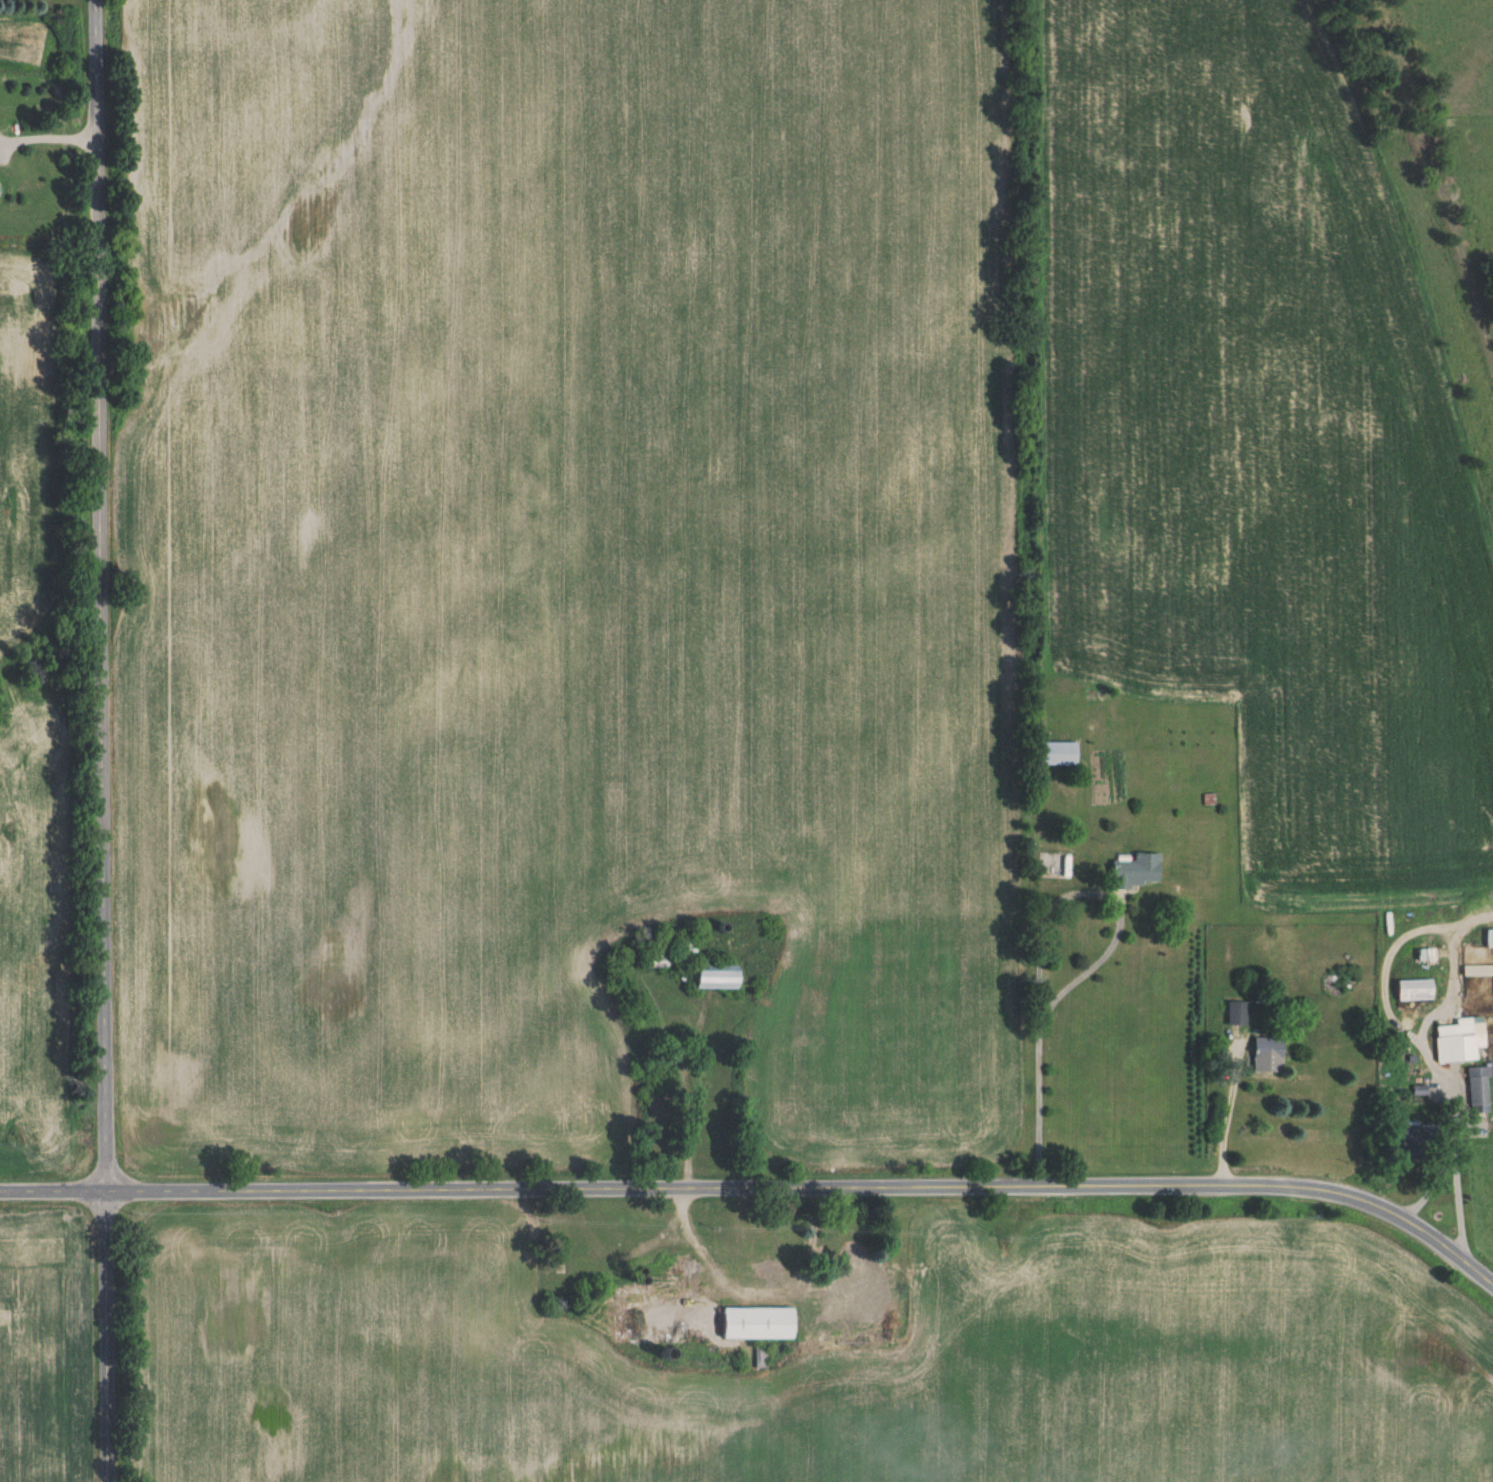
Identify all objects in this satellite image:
road: (48, 133)
building: (1, 191)
road: (99, 741)
building: (1057, 753)
building: (1131, 871)
building: (1488, 939)
building: (684, 953)
road: (1096, 957)
building: (1477, 971)
road: (1450, 974)
building: (723, 978)
road: (1385, 988)
building: (1410, 990)
building: (1235, 1013)
building: (1458, 1039)
building: (1262, 1055)
building: (1478, 1090)
road: (1225, 1115)
road: (1454, 1144)
road: (759, 1190)
building: (854, 1275)
building: (758, 1324)
building: (629, 1326)

